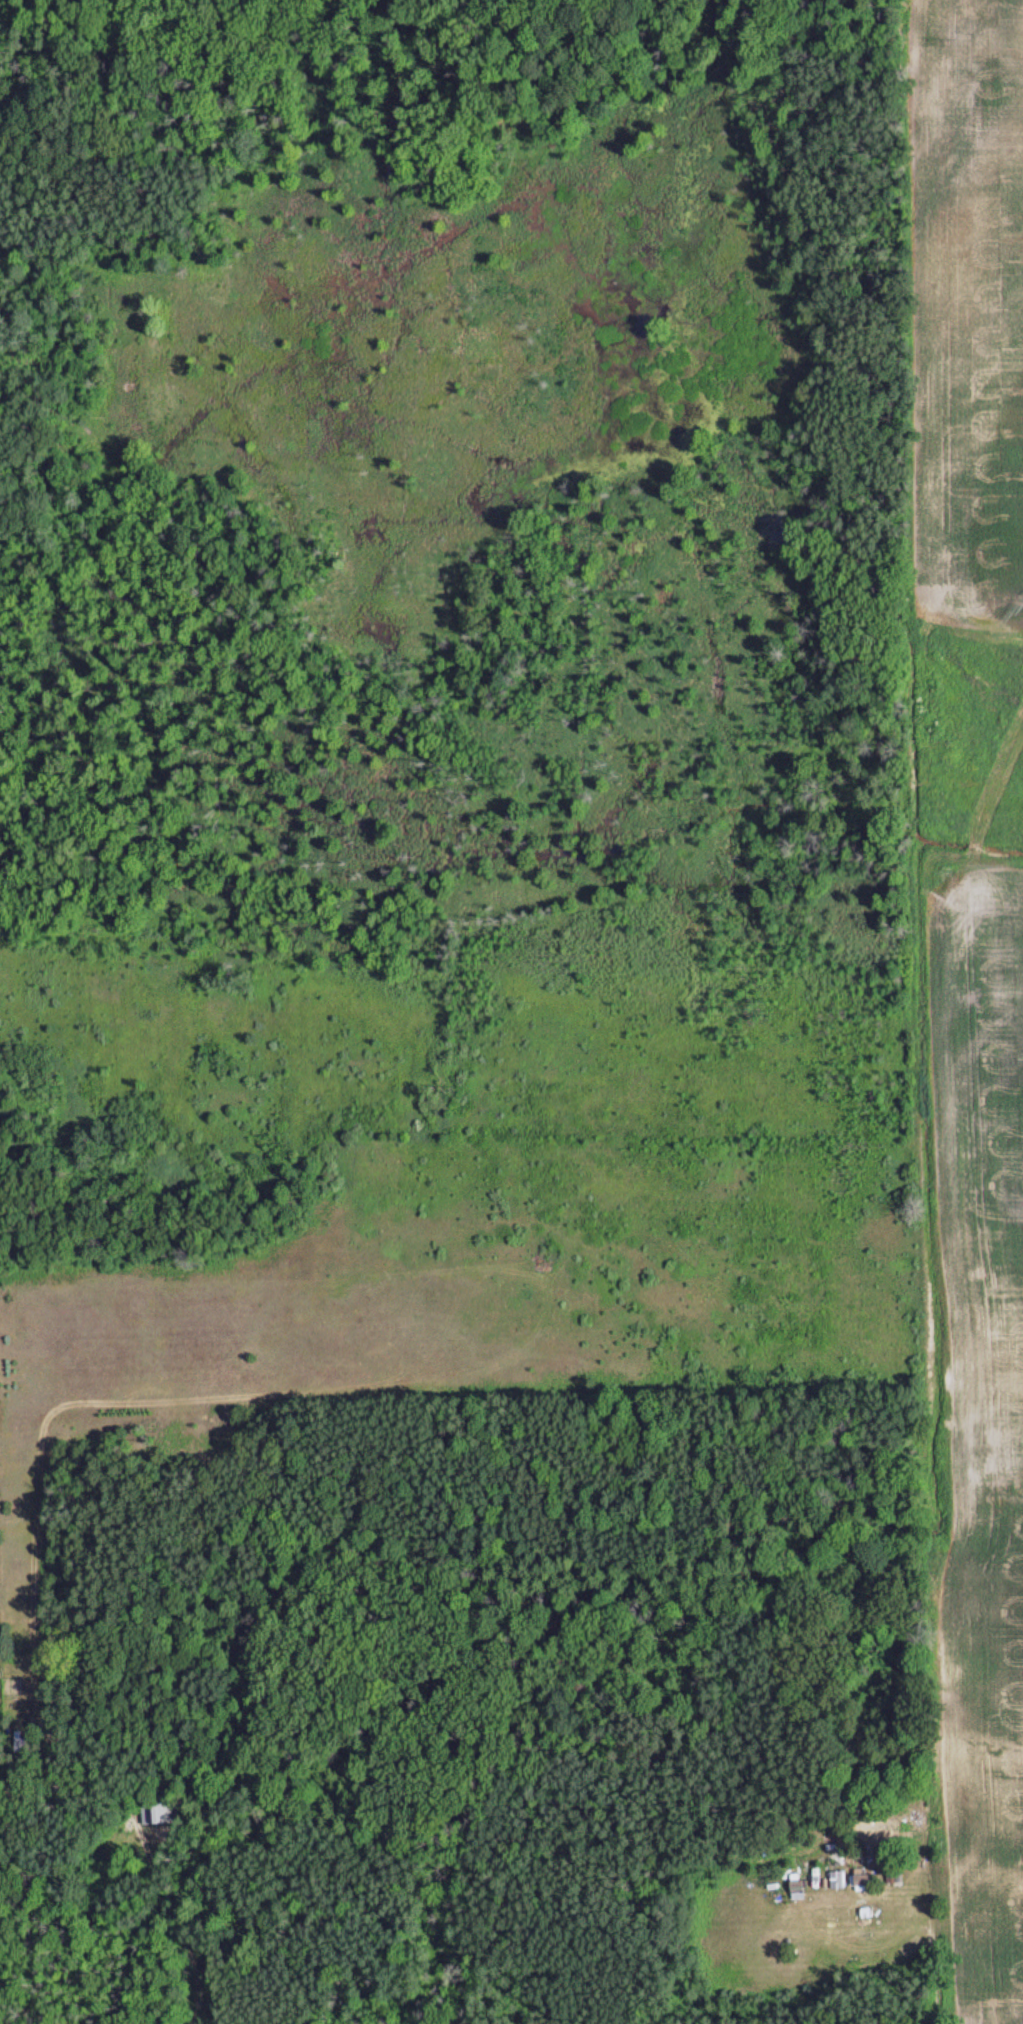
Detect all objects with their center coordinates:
building: (160, 1813)
building: (875, 1834)
building: (803, 1851)

